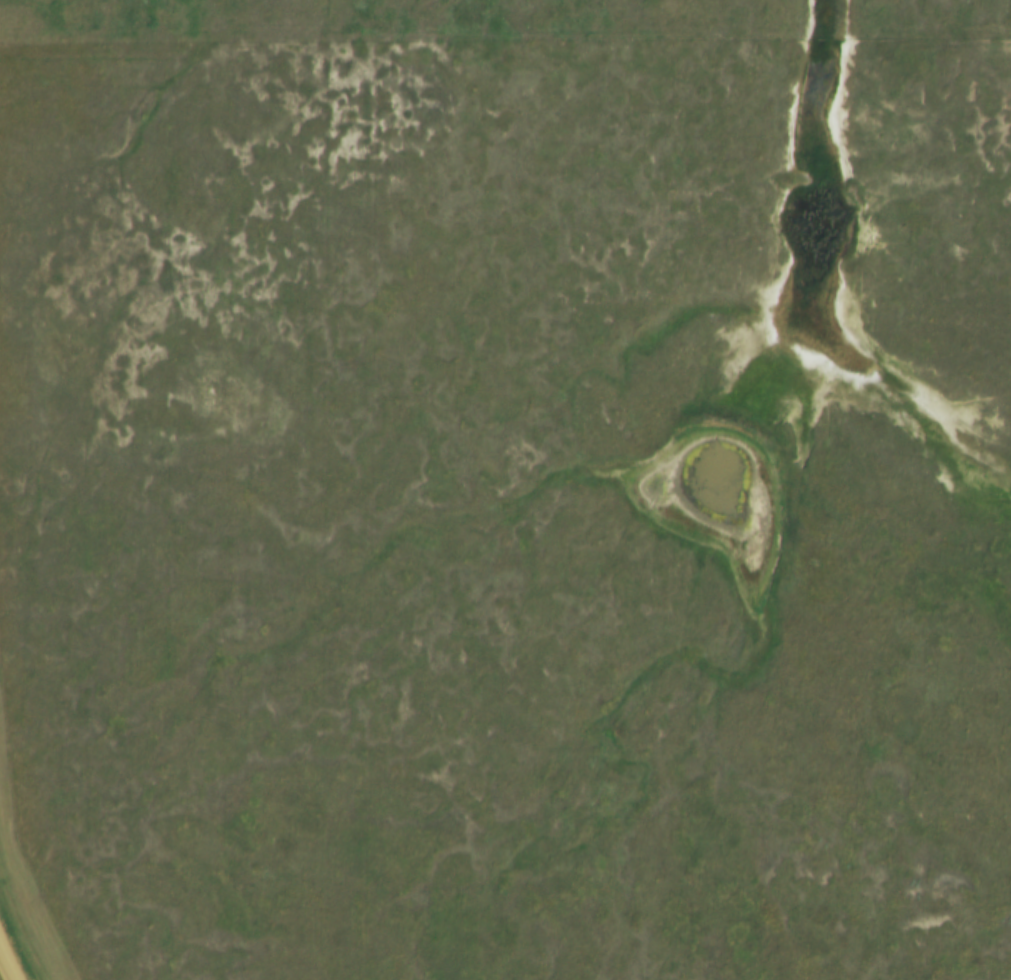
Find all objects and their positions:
road: (5, 970)

